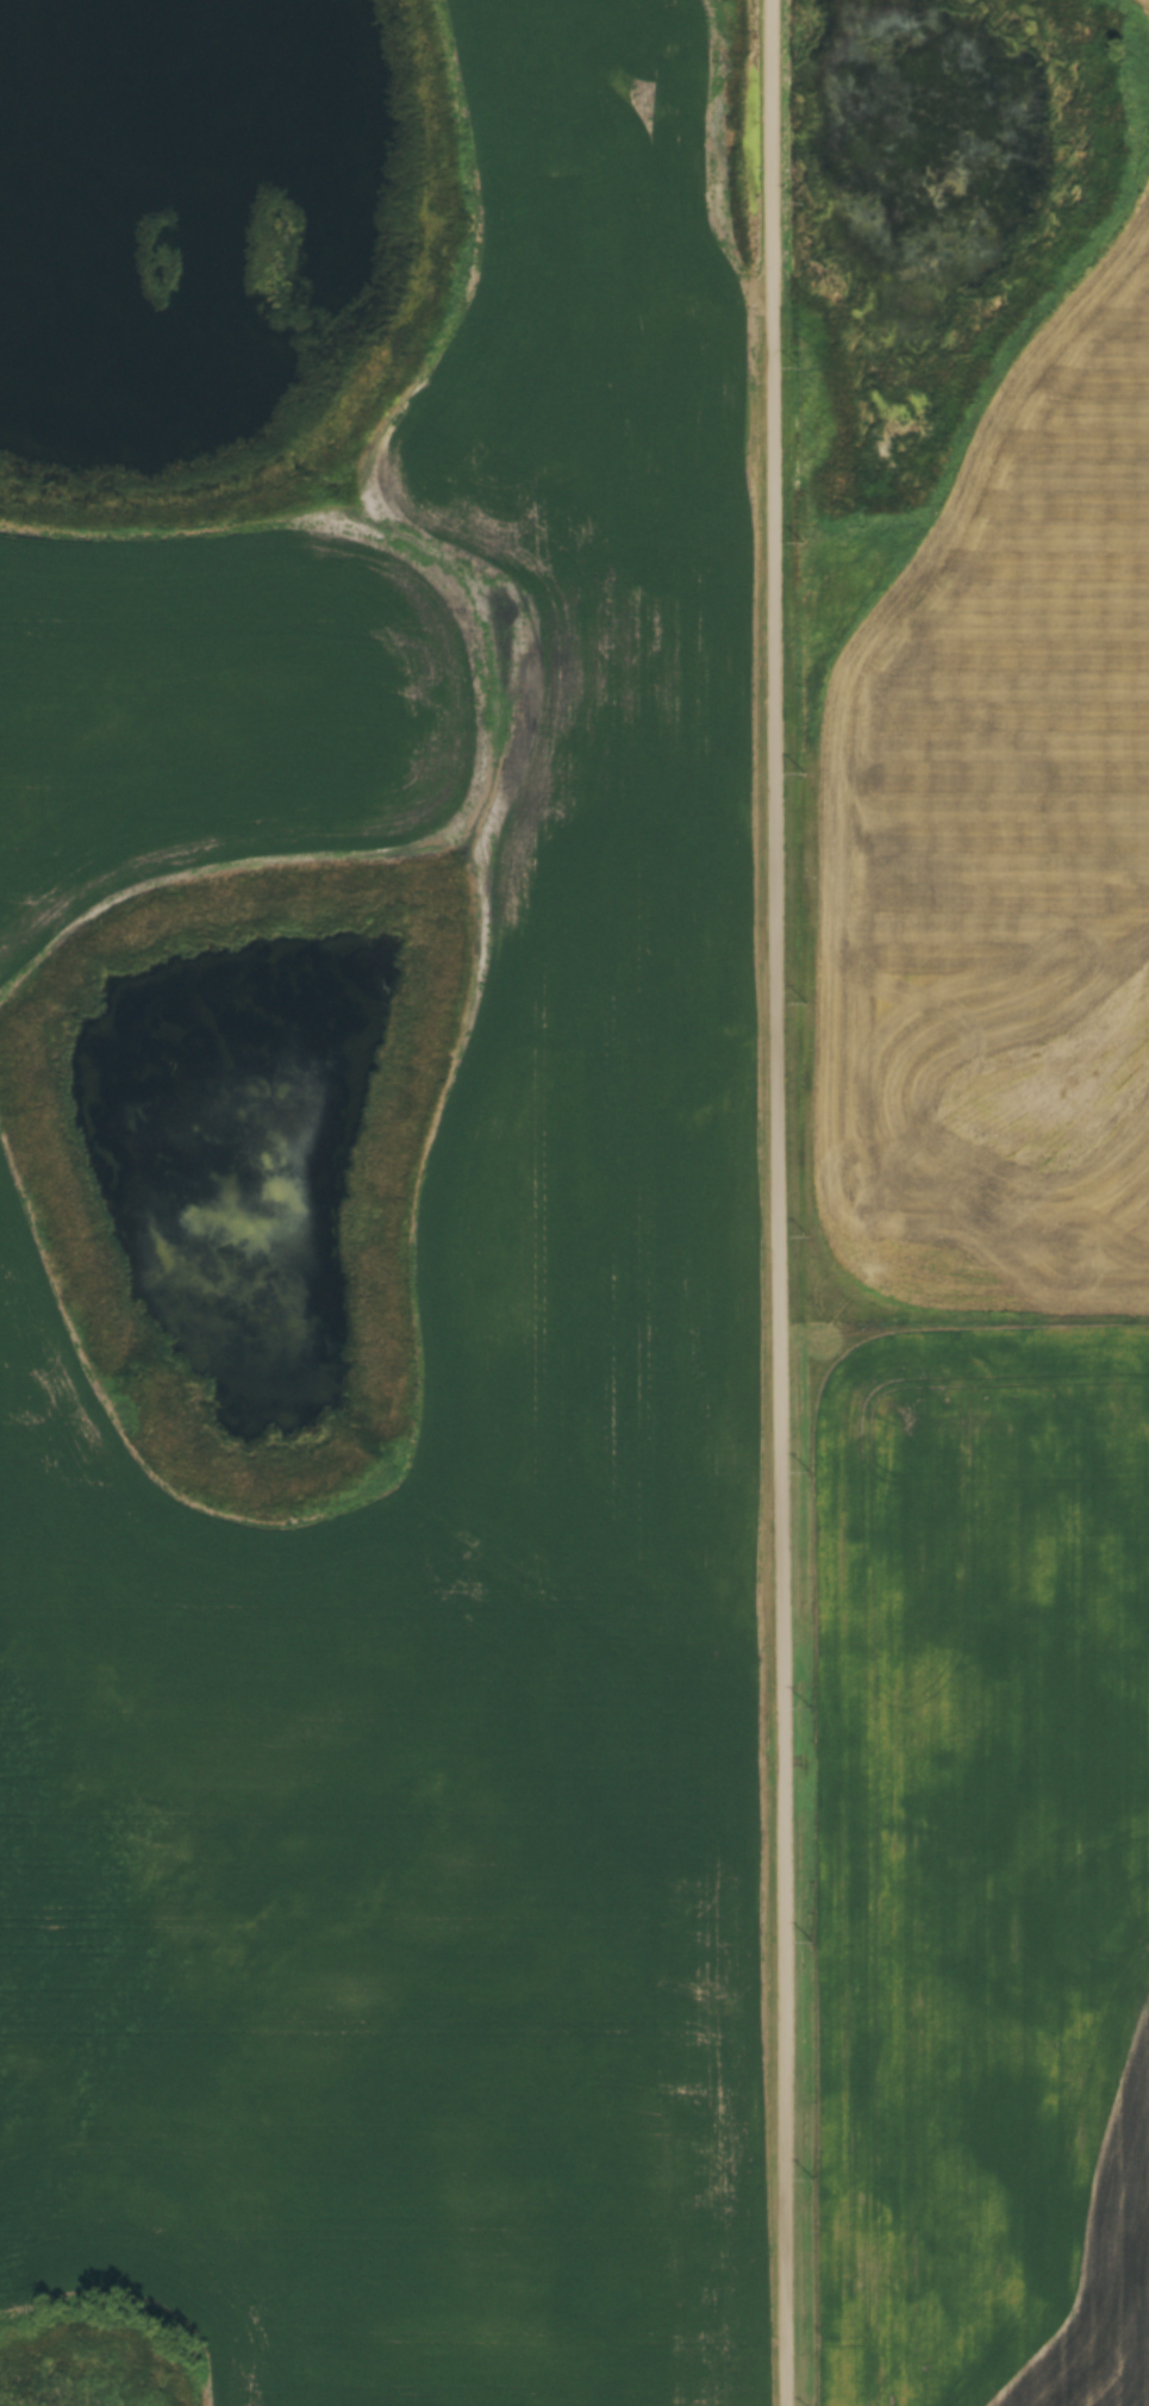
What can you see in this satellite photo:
road: (779, 1203)

